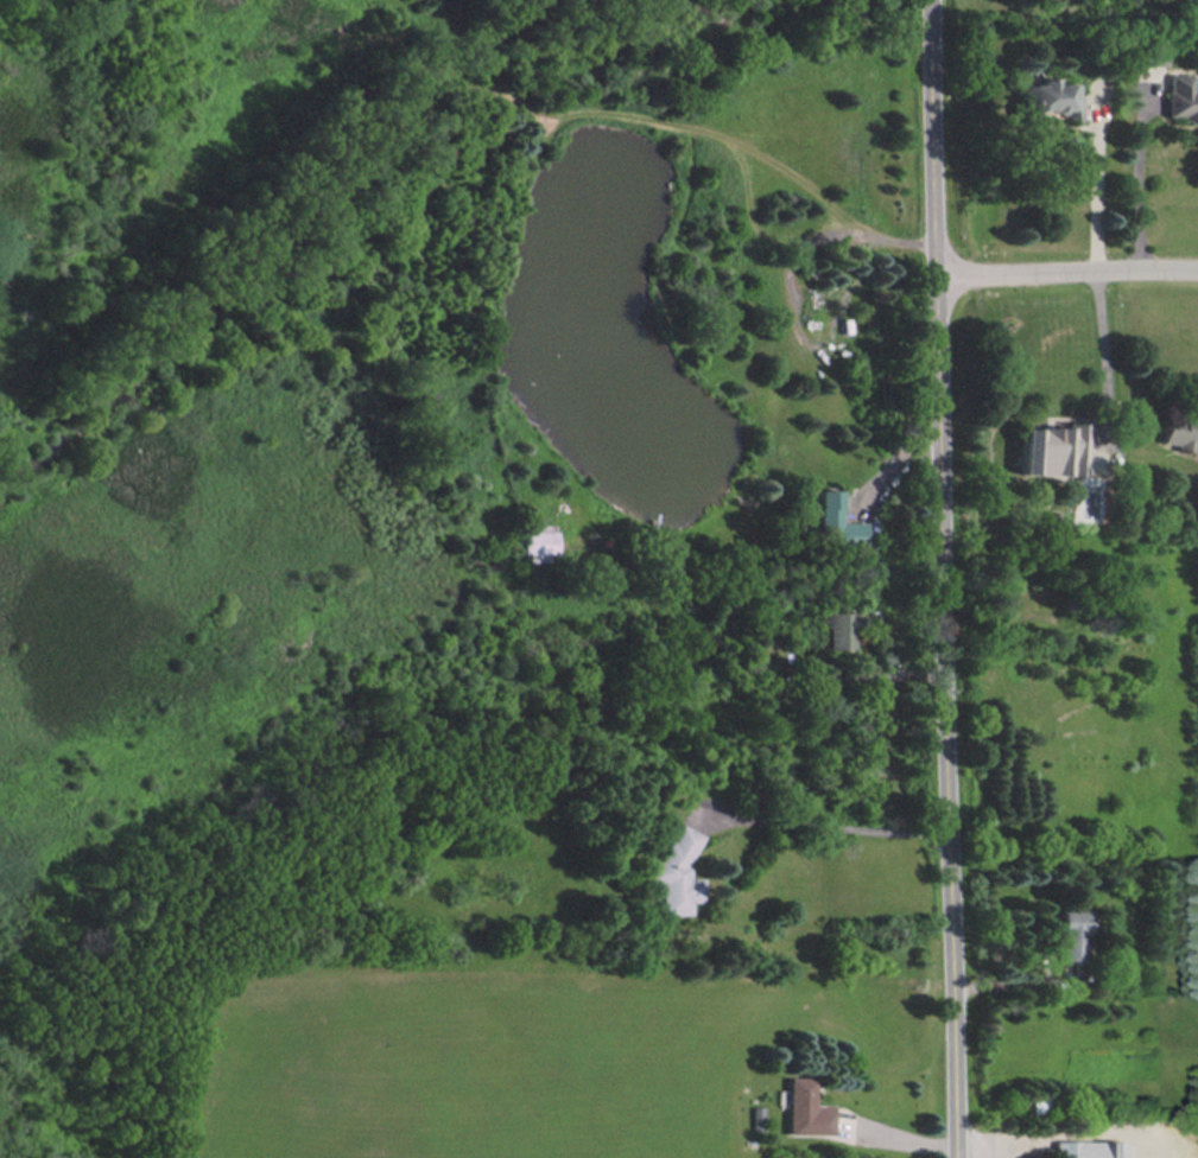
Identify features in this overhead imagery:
building: (1155, 57)
building: (1183, 95)
building: (1051, 97)
road: (1137, 178)
road: (1097, 183)
road: (1067, 272)
road: (1102, 348)
building: (1178, 430)
building: (1051, 450)
road: (893, 460)
building: (837, 522)
road: (944, 579)
building: (833, 629)
road: (824, 826)
building: (672, 872)
building: (1072, 933)
building: (805, 1108)
building: (1088, 1149)

